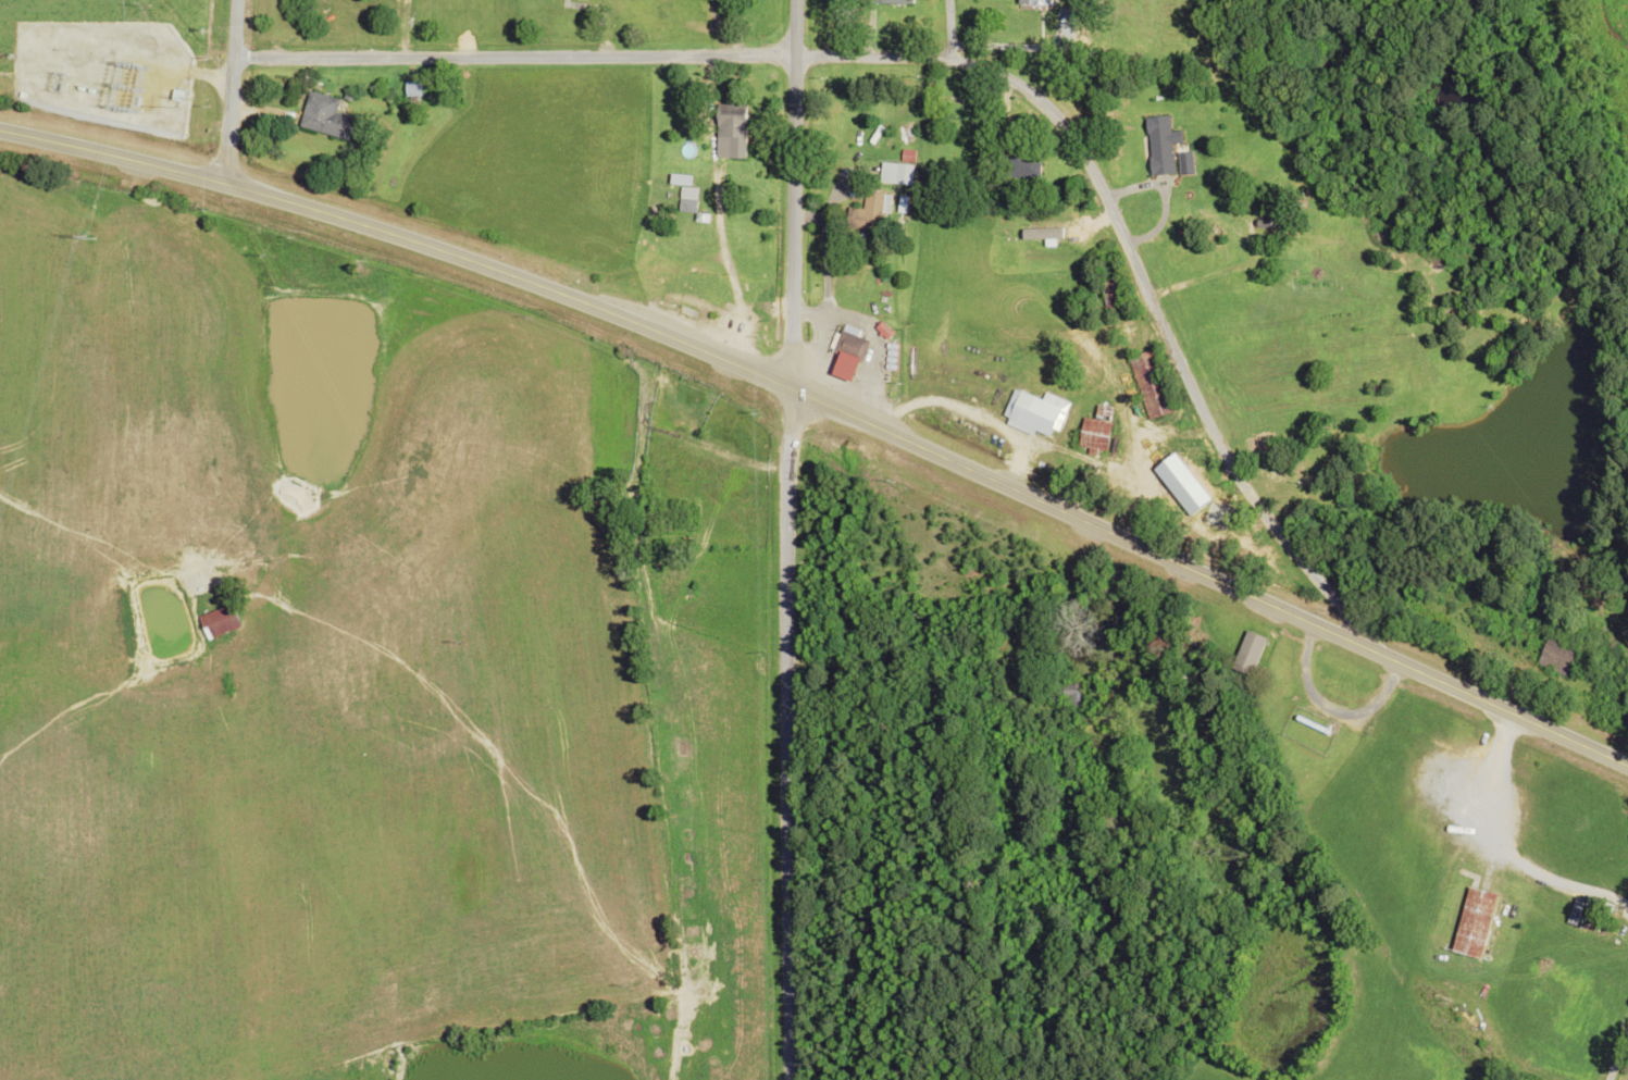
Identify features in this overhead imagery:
building: (897, 2)
road: (945, 29)
road: (957, 63)
power substation: (102, 73)
building: (415, 89)
road: (229, 92)
building: (328, 117)
building: (735, 132)
building: (1163, 146)
building: (1022, 167)
building: (906, 175)
road: (791, 194)
building: (868, 214)
building: (1043, 241)
building: (655, 272)
building: (700, 285)
building: (1116, 296)
building: (1057, 352)
building: (852, 353)
building: (1153, 386)
building: (666, 392)
road: (829, 407)
building: (1032, 411)
building: (1098, 432)
building: (1204, 509)
road: (974, 638)
building: (1250, 655)
building: (1562, 658)
building: (1070, 694)
road: (784, 733)
road: (1314, 856)
building: (1596, 923)
building: (1477, 924)
road: (1605, 1036)

